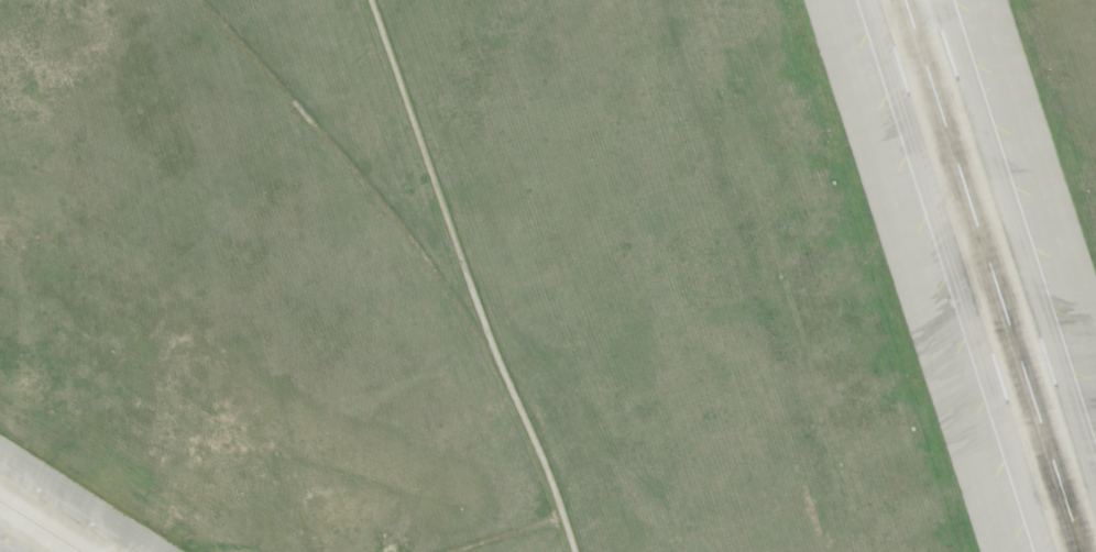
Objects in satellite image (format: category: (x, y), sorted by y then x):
airport: (548, 276)
airport runway: (990, 276)
airport taxiway: (39, 527)

